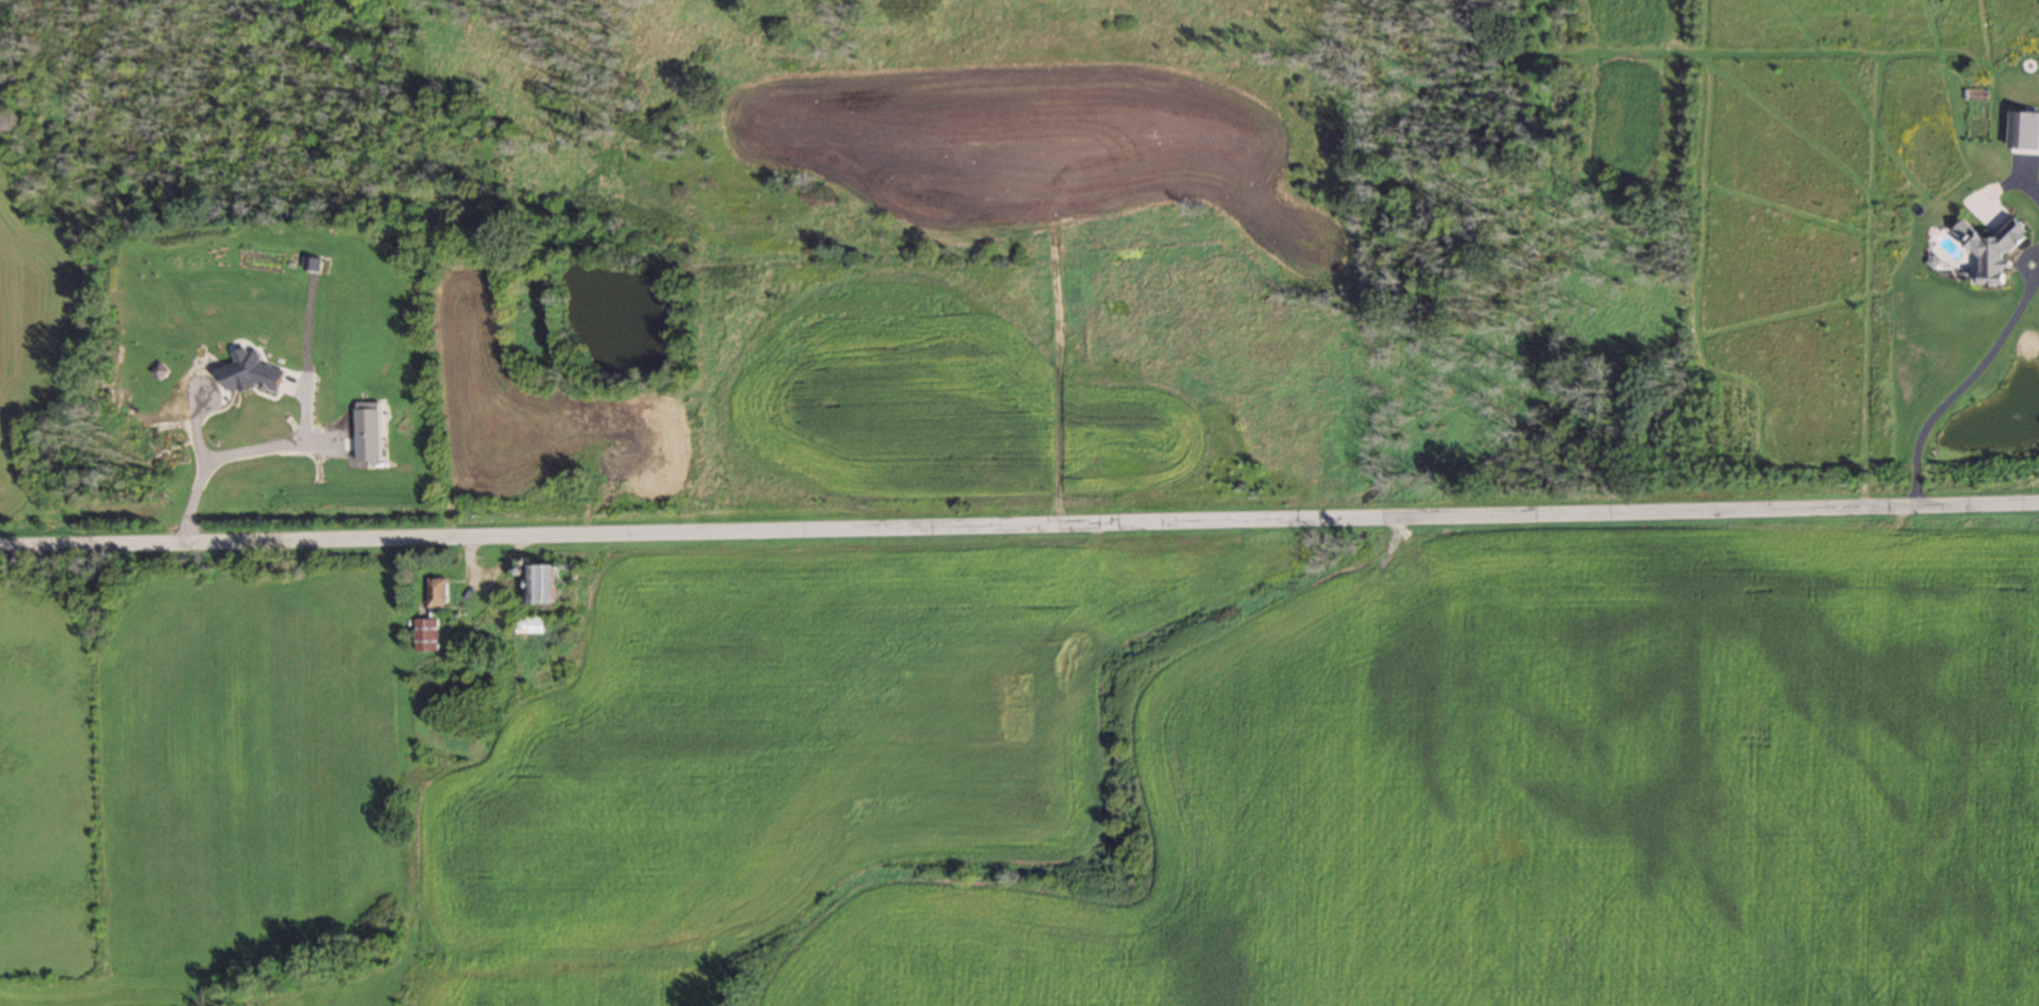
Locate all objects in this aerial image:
road: (2021, 187)
building: (1991, 247)
road: (1970, 376)
road: (267, 443)
road: (206, 464)
road: (1019, 526)
road: (487, 573)
building: (545, 581)
building: (435, 593)
building: (528, 624)
building: (425, 634)

